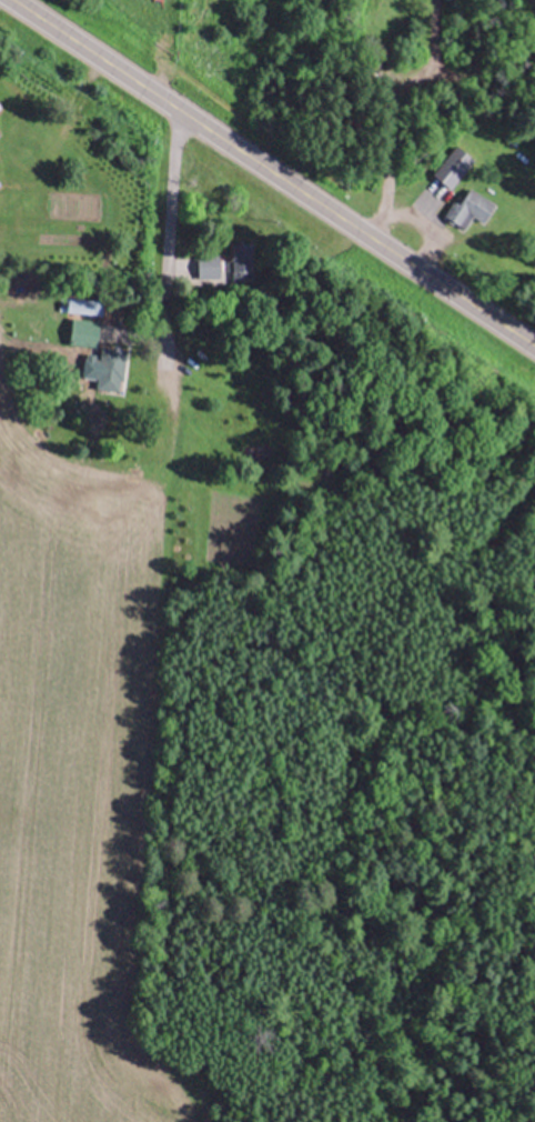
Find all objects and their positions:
building: (452, 166)
road: (274, 171)
building: (468, 208)
road: (166, 246)
building: (241, 260)
building: (208, 266)
building: (84, 303)
building: (83, 331)
building: (107, 369)
crop: (74, 777)

